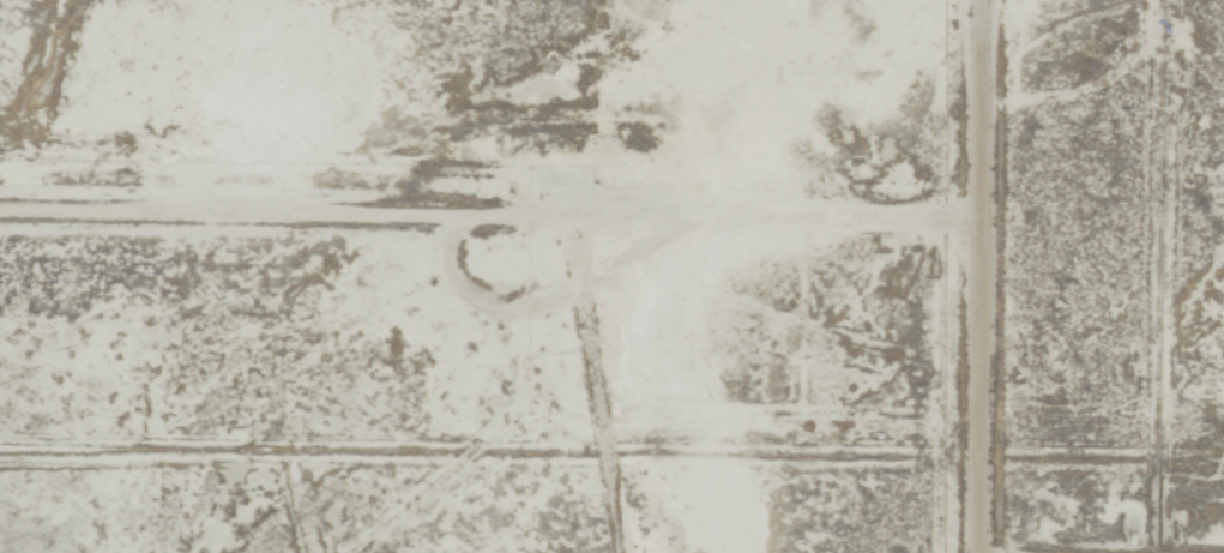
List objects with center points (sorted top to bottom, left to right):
road: (783, 271)
road: (964, 276)
road: (410, 319)
road: (1099, 443)

